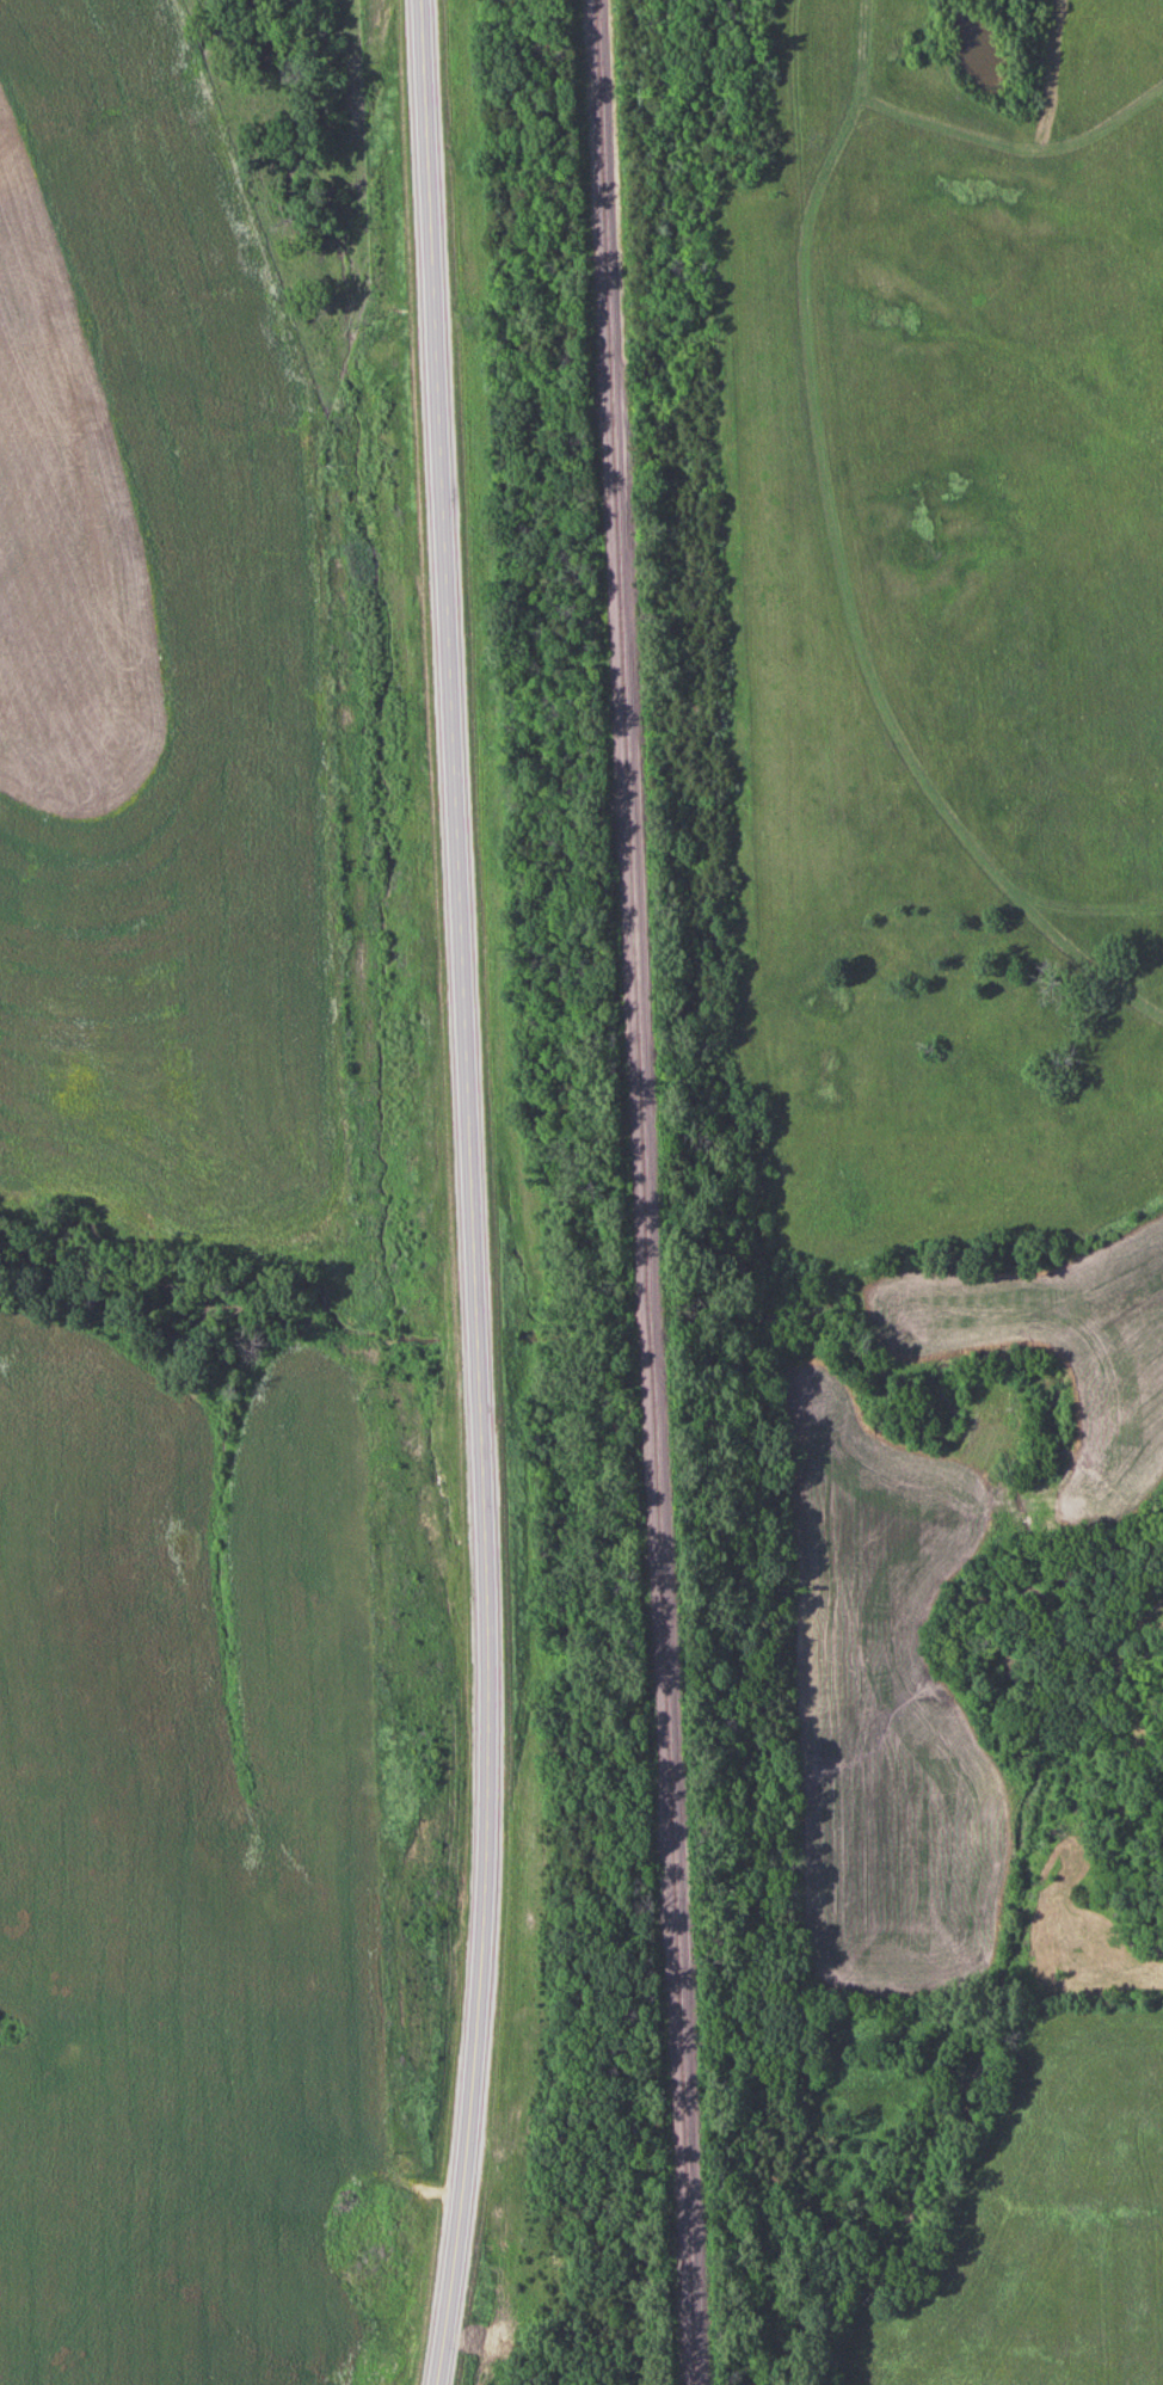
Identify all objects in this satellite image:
railway: (644, 1192)
road: (472, 1193)

